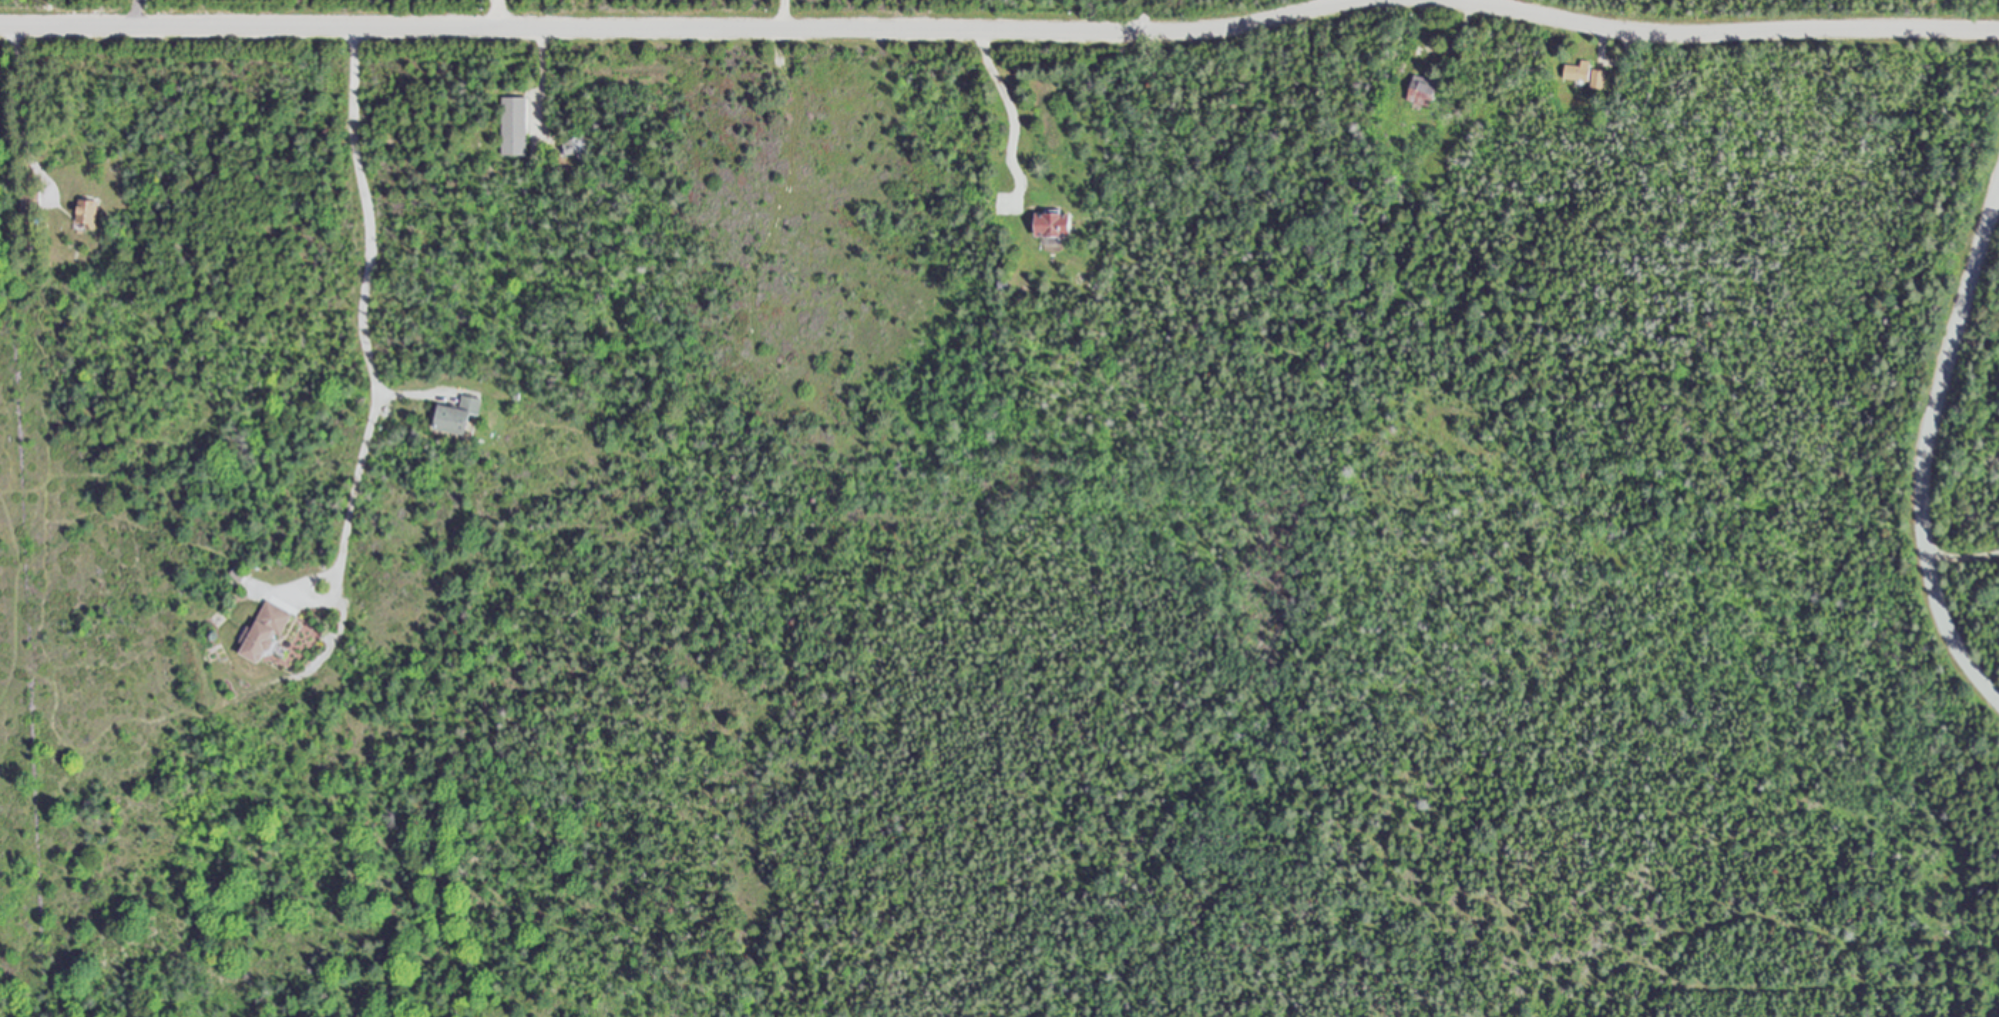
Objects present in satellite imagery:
road: (137, 13)
road: (498, 14)
road: (784, 15)
road: (681, 29)
road: (1716, 34)
road: (1437, 51)
building: (1579, 70)
road: (541, 78)
building: (1598, 78)
building: (1424, 89)
road: (1010, 107)
road: (29, 113)
building: (514, 125)
building: (574, 144)
building: (88, 213)
building: (1054, 224)
road: (361, 311)
road: (1980, 323)
road: (403, 396)
building: (459, 415)
road: (1926, 448)
road: (1962, 552)
building: (266, 631)

